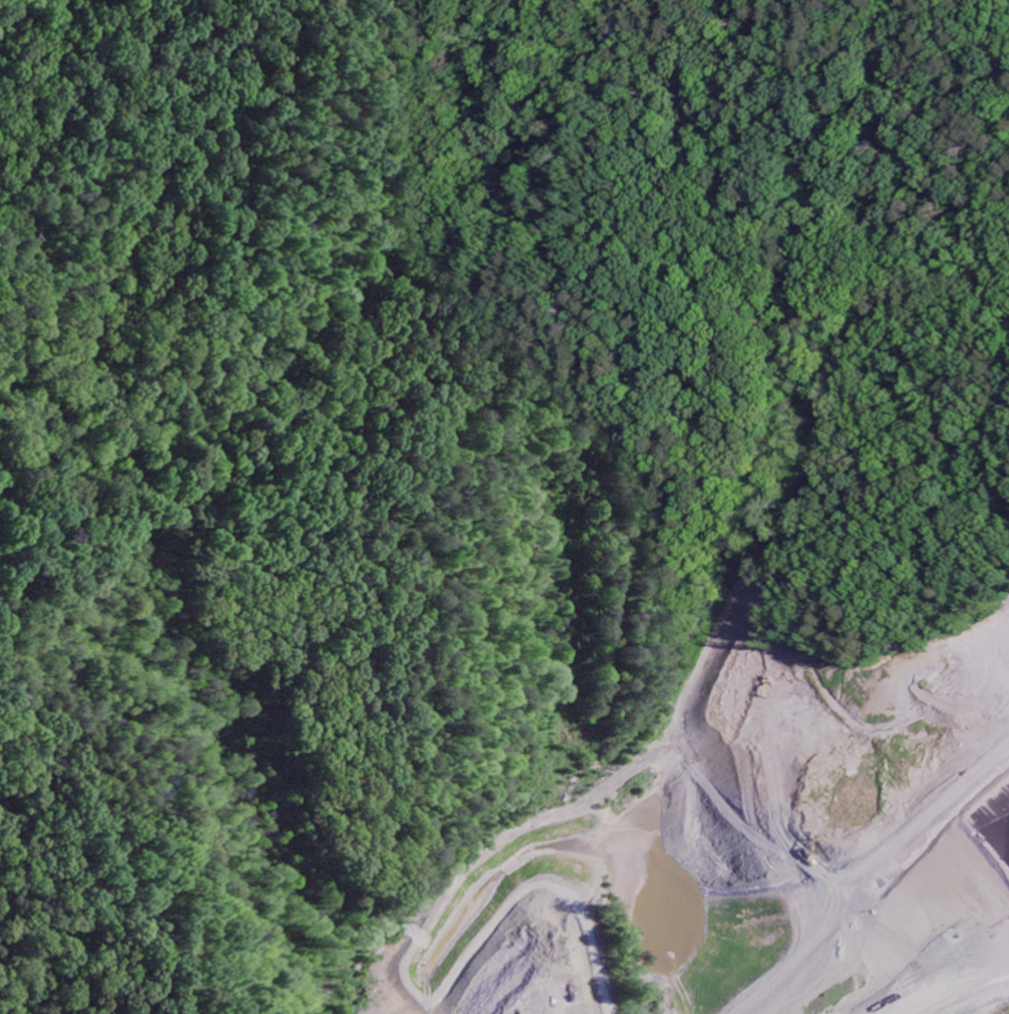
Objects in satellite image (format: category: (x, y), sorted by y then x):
road: (145, 671)
landfill: (754, 848)
road: (859, 871)

